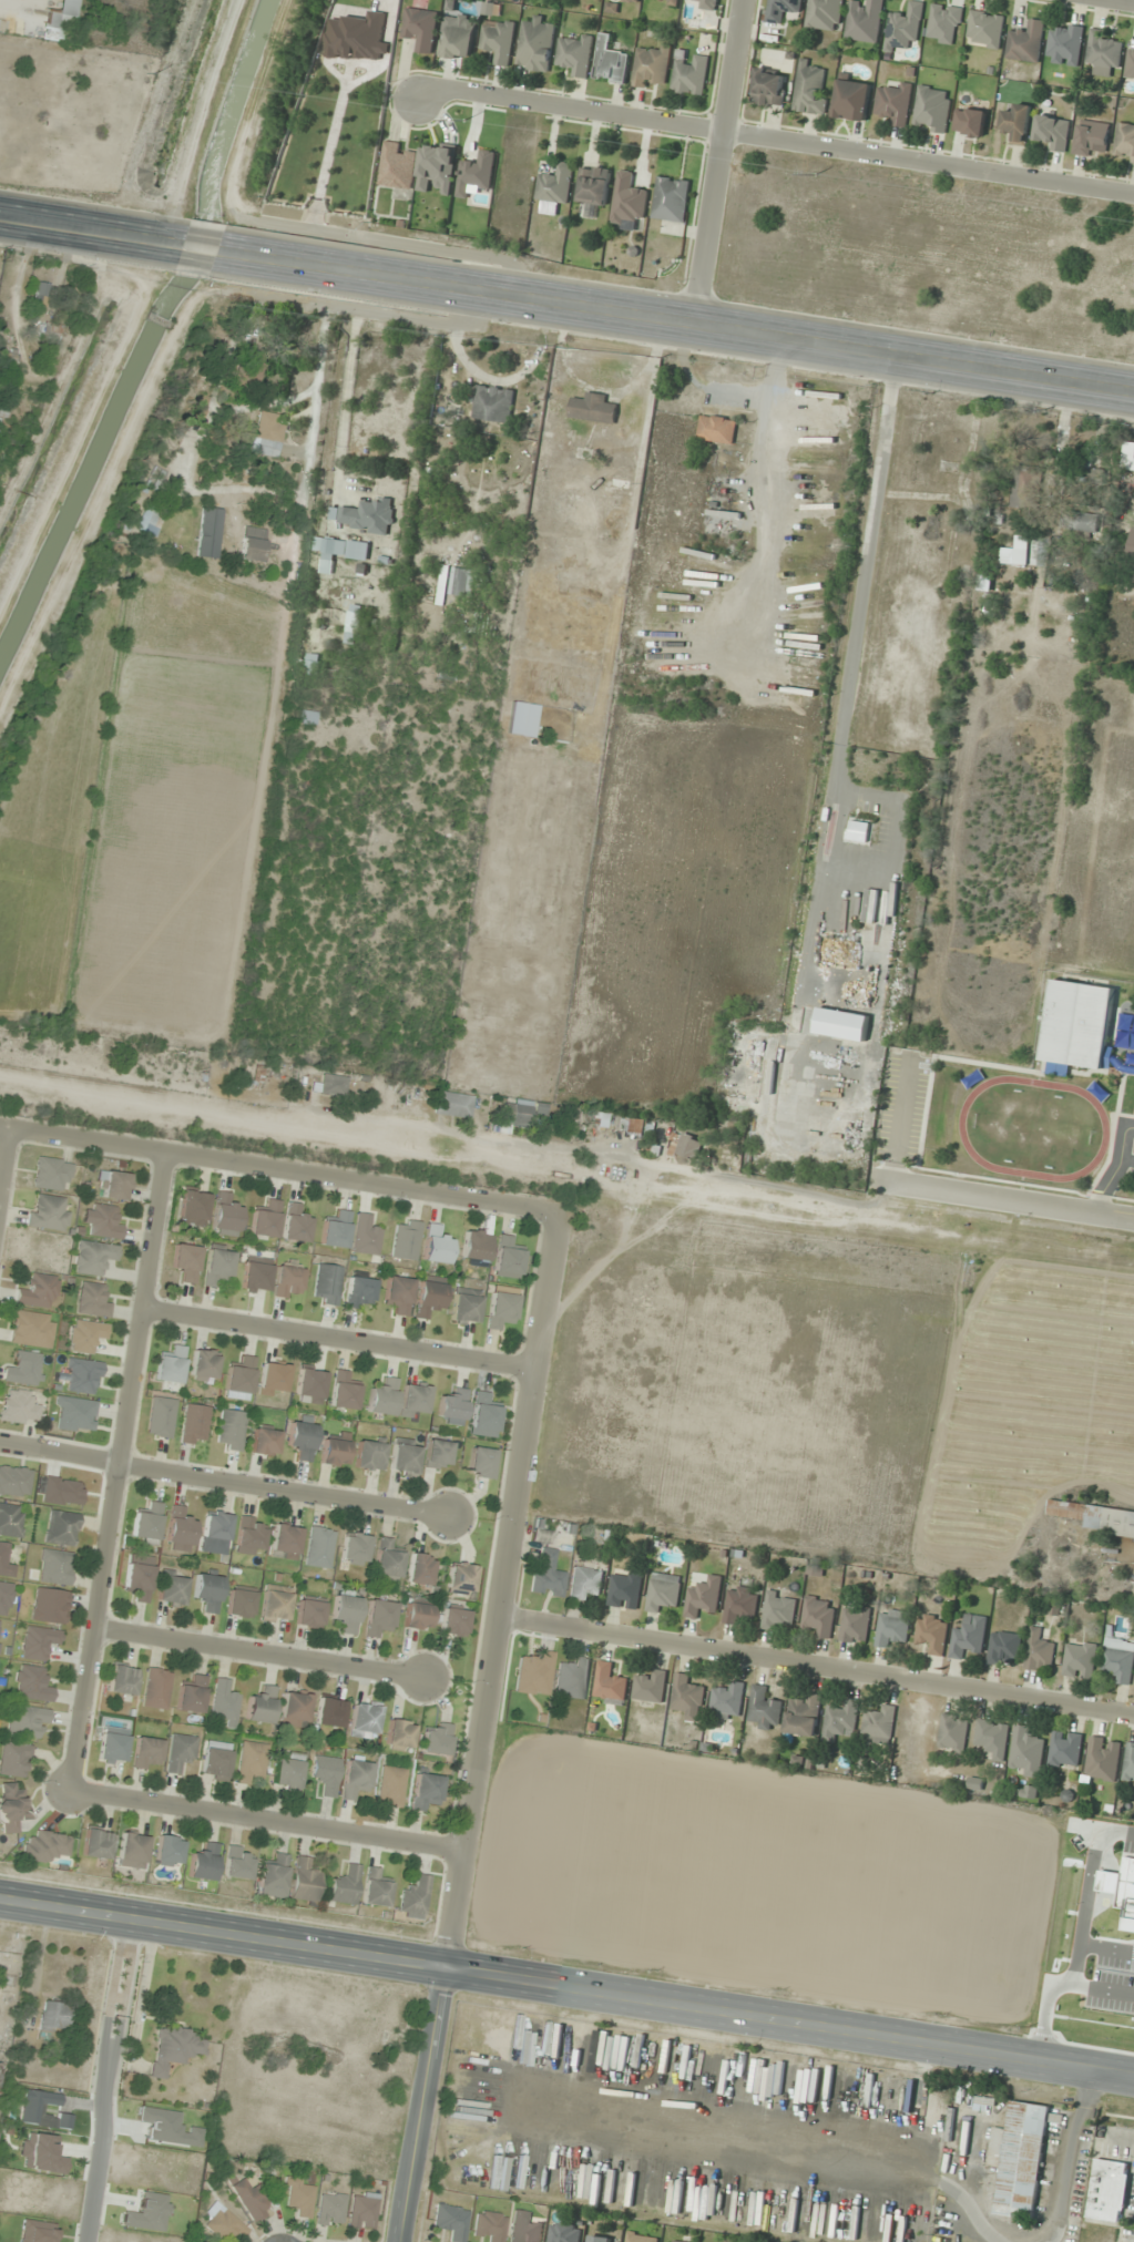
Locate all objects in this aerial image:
building: (632, 0)
building: (666, 1)
road: (1118, 2)
building: (707, 4)
building: (783, 10)
building: (825, 14)
building: (865, 20)
building: (60, 22)
building: (944, 23)
building: (903, 27)
building: (421, 28)
building: (985, 29)
building: (458, 35)
building: (499, 39)
building: (1026, 40)
building: (537, 44)
building: (1065, 44)
building: (1104, 52)
building: (575, 53)
building: (611, 61)
building: (1130, 63)
building: (652, 66)
building: (691, 72)
building: (770, 86)
building: (810, 89)
building: (852, 99)
building: (895, 103)
building: (932, 109)
building: (971, 121)
building: (1018, 123)
building: (1053, 132)
building: (1091, 136)
road: (772, 141)
building: (1124, 142)
road: (718, 161)
building: (398, 165)
building: (438, 167)
building: (357, 168)
building: (555, 183)
building: (594, 184)
building: (672, 198)
building: (630, 201)
road: (84, 229)
road: (196, 247)
building: (42, 294)
road: (678, 319)
building: (51, 330)
building: (7, 357)
building: (251, 366)
building: (493, 403)
road: (329, 406)
building: (594, 408)
building: (2, 413)
building: (717, 429)
building: (267, 434)
building: (1128, 452)
building: (1022, 488)
building: (369, 515)
building: (1082, 521)
building: (149, 523)
building: (253, 544)
building: (1131, 549)
building: (339, 551)
building: (1015, 553)
building: (461, 582)
building: (985, 582)
building: (354, 623)
building: (307, 717)
building: (1077, 1025)
building: (265, 1074)
building: (334, 1085)
building: (453, 1104)
building: (520, 1113)
road: (900, 1118)
building: (634, 1125)
building: (685, 1145)
road: (591, 1157)
road: (6, 1168)
road: (277, 1169)
road: (1115, 1169)
building: (52, 1174)
building: (115, 1186)
road: (1005, 1201)
building: (193, 1208)
building: (49, 1212)
building: (226, 1216)
building: (103, 1220)
building: (266, 1220)
building: (296, 1224)
building: (336, 1230)
building: (366, 1236)
building: (406, 1239)
building: (436, 1246)
building: (476, 1246)
building: (93, 1258)
building: (508, 1258)
building: (186, 1261)
building: (218, 1265)
building: (256, 1274)
building: (288, 1279)
building: (328, 1283)
building: (359, 1290)
building: (39, 1291)
building: (399, 1293)
building: (429, 1298)
building: (93, 1300)
building: (466, 1306)
building: (501, 1309)
building: (32, 1329)
building: (86, 1335)
road: (338, 1338)
building: (171, 1365)
building: (203, 1366)
building: (24, 1369)
building: (83, 1376)
building: (241, 1376)
building: (274, 1380)
building: (310, 1385)
building: (344, 1392)
building: (384, 1398)
building: (415, 1401)
building: (19, 1407)
building: (453, 1407)
building: (75, 1414)
building: (161, 1416)
building: (483, 1416)
building: (194, 1424)
building: (231, 1430)
building: (302, 1440)
building: (265, 1442)
building: (334, 1453)
building: (438, 1454)
building: (369, 1455)
building: (403, 1457)
building: (481, 1463)
road: (118, 1472)
road: (224, 1480)
building: (14, 1482)
building: (1096, 1516)
building: (11, 1519)
building: (147, 1523)
building: (180, 1527)
building: (216, 1527)
building: (62, 1528)
building: (251, 1536)
building: (285, 1542)
building: (320, 1547)
building: (355, 1548)
building: (4, 1562)
building: (387, 1562)
building: (55, 1567)
building: (419, 1570)
building: (548, 1574)
building: (460, 1578)
building: (139, 1580)
building: (585, 1583)
building: (172, 1587)
building: (625, 1588)
building: (208, 1590)
building: (663, 1591)
building: (704, 1596)
building: (4, 1598)
building: (740, 1603)
building: (241, 1604)
building: (276, 1604)
building: (49, 1606)
building: (779, 1609)
building: (347, 1610)
building: (310, 1613)
building: (819, 1615)
building: (379, 1617)
building: (417, 1617)
building: (453, 1621)
building: (855, 1625)
building: (892, 1627)
building: (932, 1632)
building: (969, 1636)
building: (39, 1642)
building: (1004, 1647)
building: (1040, 1650)
road: (259, 1655)
building: (1080, 1659)
building: (1120, 1659)
road: (816, 1668)
building: (535, 1673)
building: (573, 1679)
building: (123, 1680)
building: (610, 1682)
building: (33, 1683)
building: (651, 1687)
building: (156, 1688)
building: (192, 1695)
building: (688, 1697)
building: (225, 1701)
building: (727, 1701)
building: (262, 1706)
building: (295, 1709)
building: (764, 1709)
building: (330, 1711)
building: (804, 1714)
building: (365, 1720)
building: (841, 1720)
building: (28, 1721)
building: (880, 1723)
road: (481, 1728)
building: (953, 1732)
building: (400, 1734)
building: (993, 1737)
building: (437, 1739)
building: (113, 1744)
building: (1065, 1749)
building: (1028, 1750)
building: (146, 1752)
building: (181, 1752)
building: (1103, 1758)
building: (14, 1759)
building: (216, 1760)
building: (252, 1761)
building: (1130, 1762)
building: (288, 1771)
building: (326, 1774)
building: (356, 1779)
building: (391, 1787)
building: (426, 1791)
building: (1029, 1792)
building: (11, 1808)
road: (266, 1822)
building: (96, 1844)
building: (47, 1847)
building: (133, 1851)
building: (168, 1851)
building: (203, 1863)
building: (238, 1863)
building: (273, 1877)
building: (305, 1882)
building: (345, 1885)
crop: (809, 1885)
building: (375, 1888)
building: (415, 1898)
building: (1105, 1925)
street lamp: (88, 1941)
street lamp: (520, 1948)
street lamp: (600, 1962)
street lamp: (657, 1968)
road: (566, 1984)
street lamp: (780, 1988)
street lamp: (419, 1989)
street lamp: (942, 2014)
building: (53, 2017)
street lamp: (1041, 2028)
street lamp: (753, 2041)
building: (174, 2048)
street lamp: (932, 2070)
road: (105, 2079)
road: (1122, 2136)
building: (41, 2154)
building: (1020, 2159)
building: (1107, 2189)
building: (299, 2197)
building: (252, 2201)
building: (331, 2210)
building: (364, 2211)
building: (451, 2221)
building: (223, 2224)
building: (490, 2225)
building: (527, 2228)
building: (564, 2232)
building: (641, 2238)
building: (600, 2239)
building: (676, 2241)

